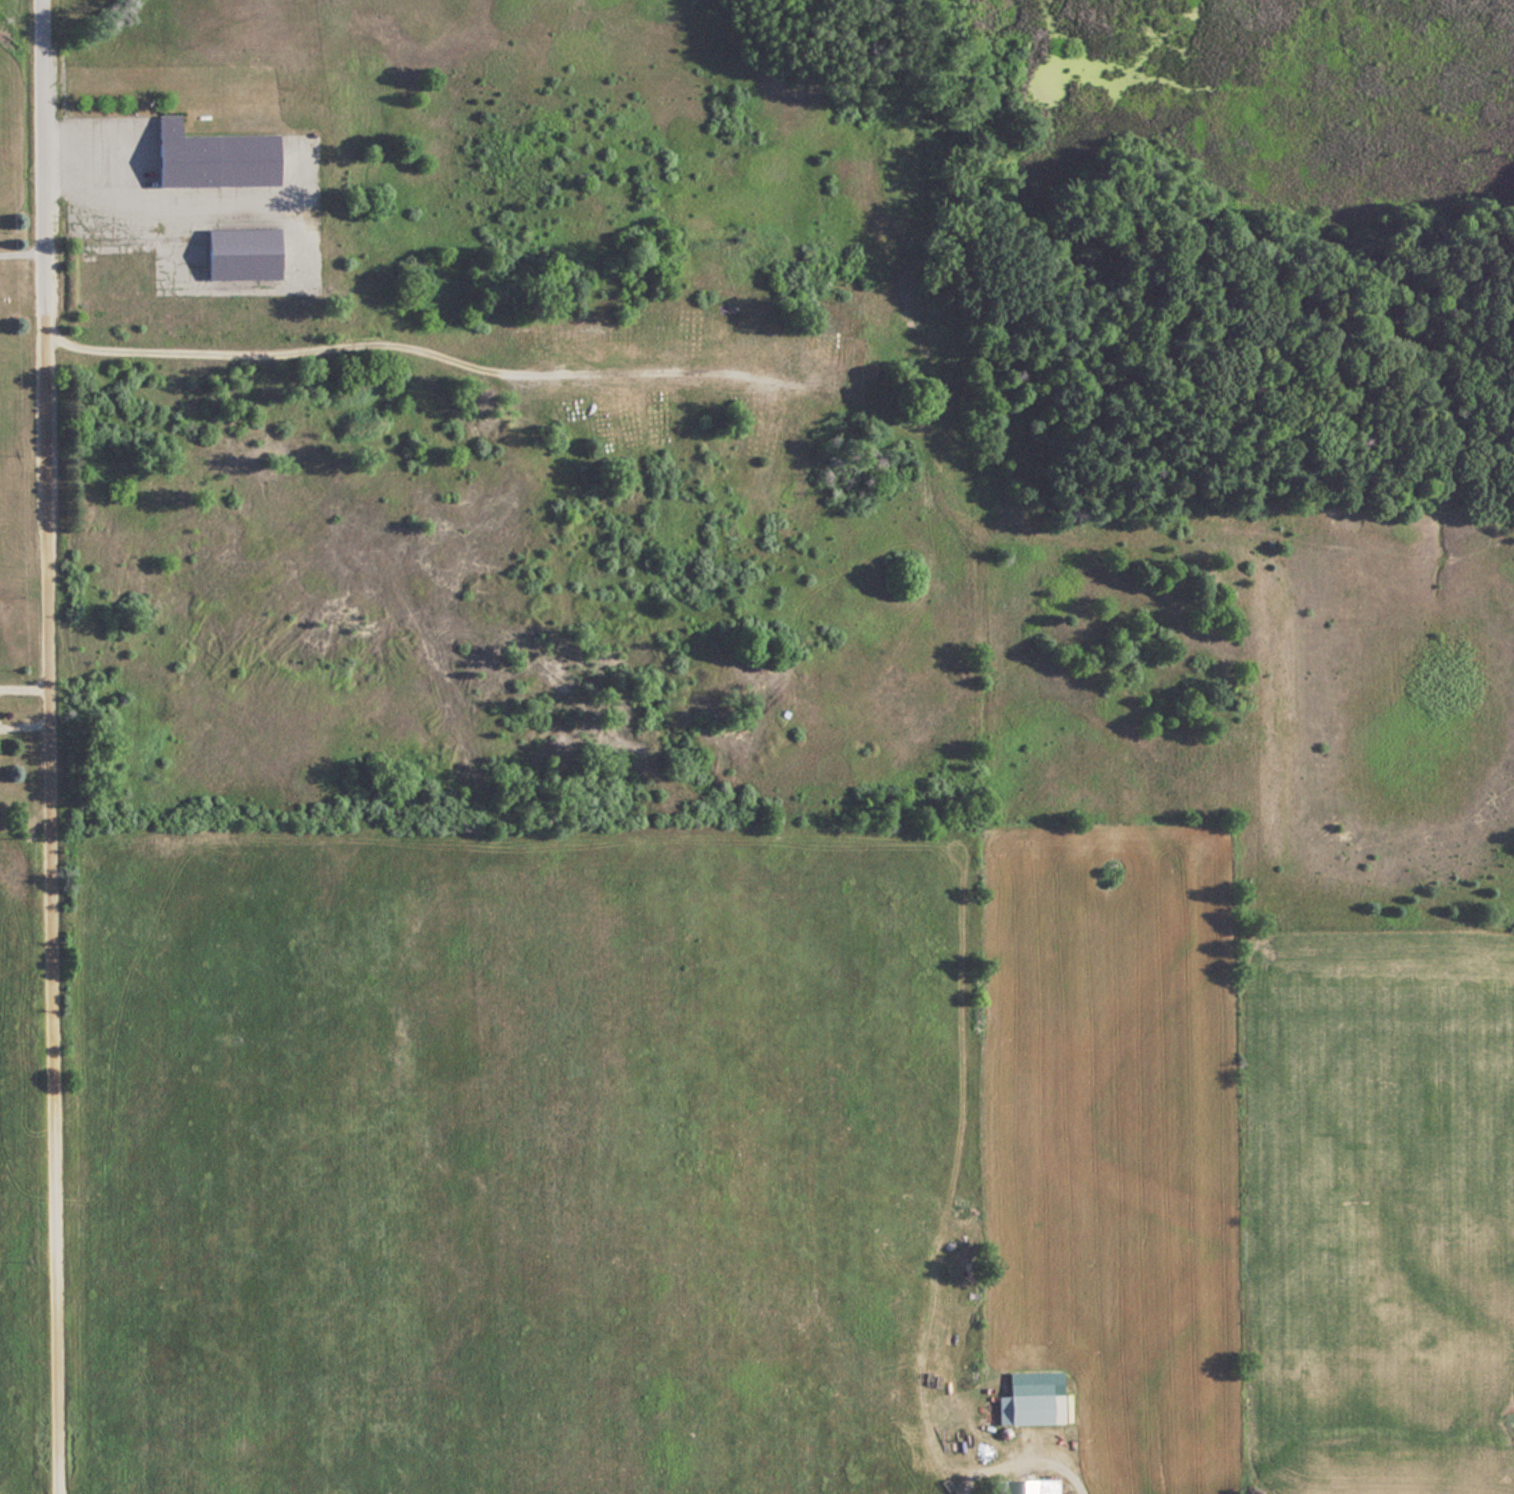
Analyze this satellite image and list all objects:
building: (209, 156)
road: (39, 157)
road: (89, 161)
road: (20, 252)
building: (239, 253)
road: (51, 904)
building: (1026, 1406)
building: (1020, 1486)

